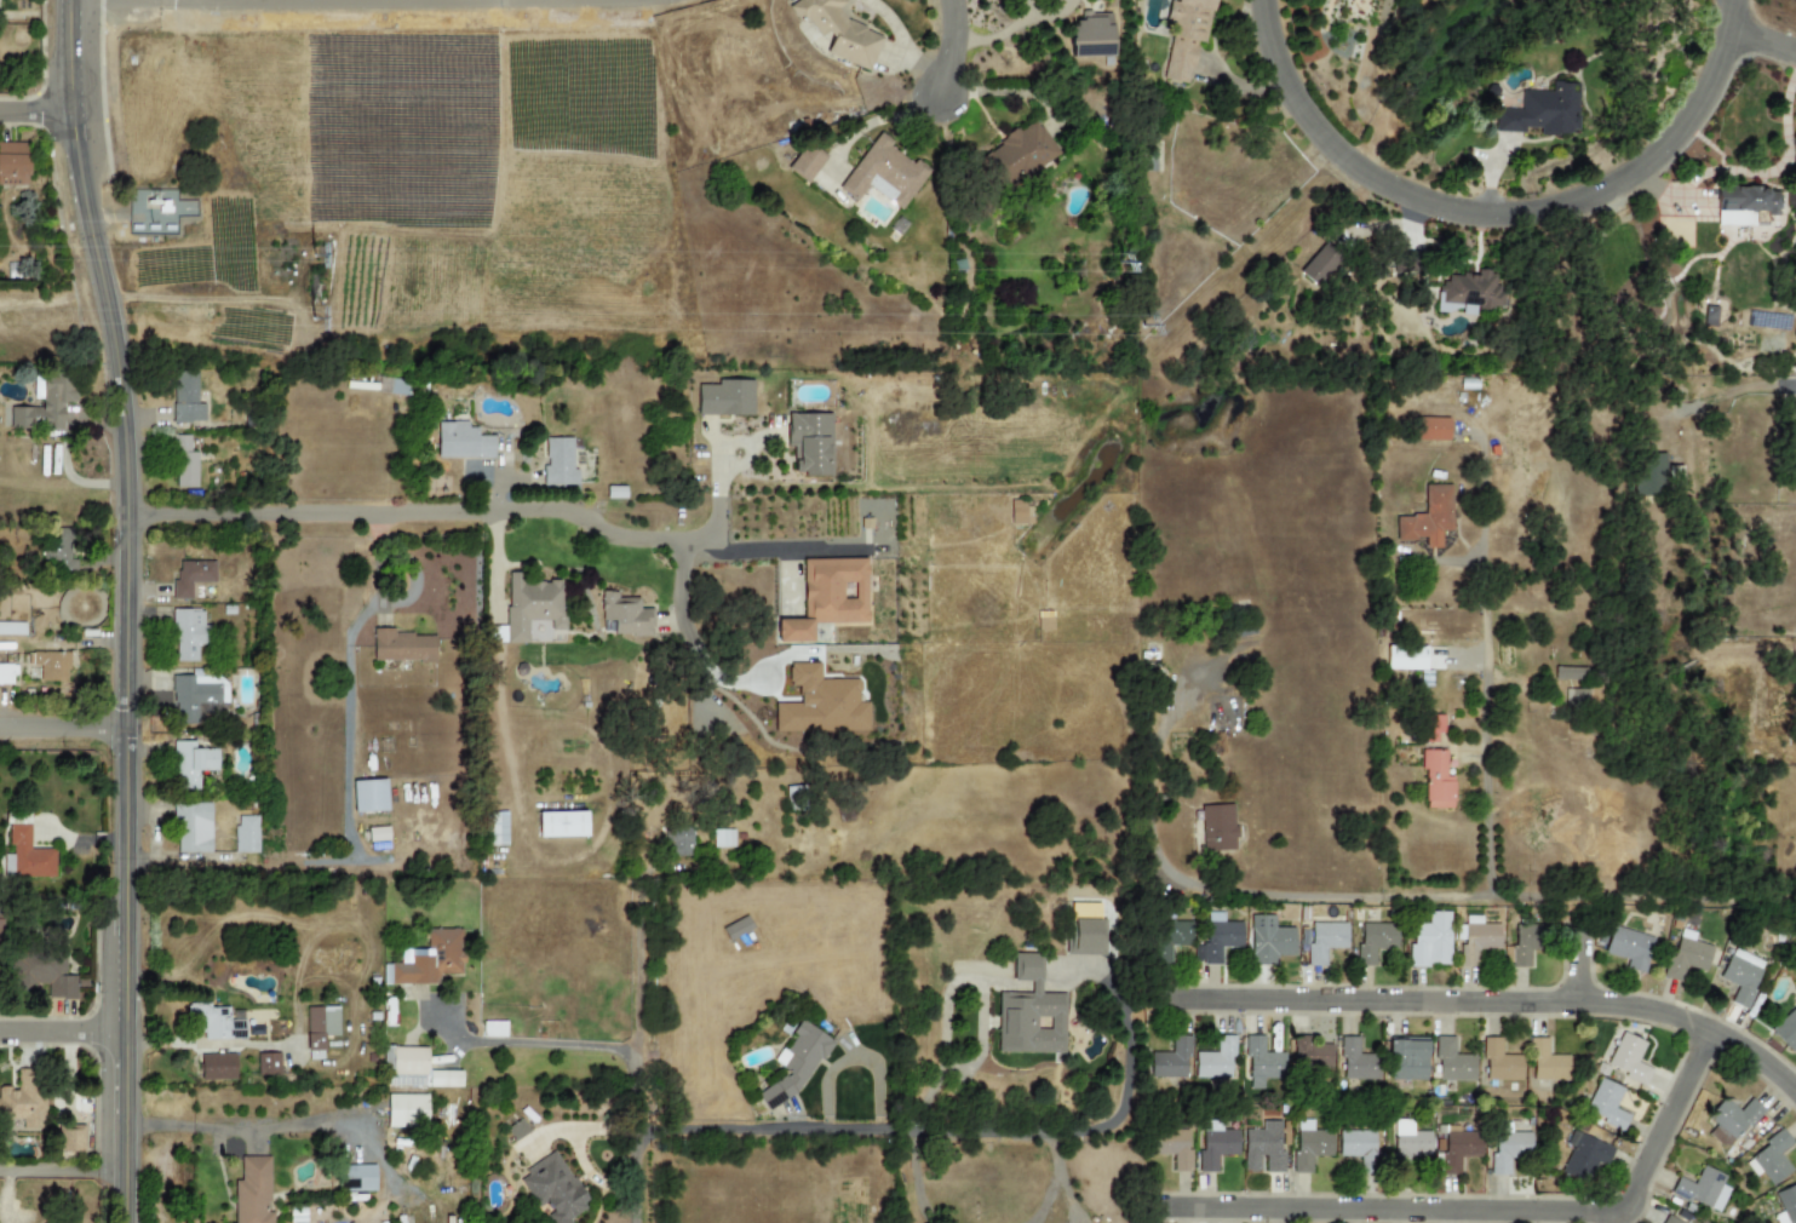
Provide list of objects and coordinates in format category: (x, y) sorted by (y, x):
building: (839, 31)
building: (1091, 35)
building: (1184, 36)
road: (1761, 38)
road: (949, 45)
building: (1543, 111)
road: (36, 115)
building: (1016, 156)
building: (13, 163)
building: (805, 163)
road: (1746, 172)
building: (884, 174)
building: (1743, 203)
road: (1492, 213)
building: (1318, 265)
building: (1467, 292)
road: (1791, 384)
building: (392, 386)
road: (1774, 389)
building: (724, 397)
building: (185, 398)
building: (45, 406)
building: (1430, 429)
building: (461, 442)
building: (809, 442)
building: (184, 463)
building: (558, 463)
building: (1648, 473)
road: (478, 512)
building: (1427, 517)
building: (59, 546)
road: (777, 552)
road: (497, 567)
building: (191, 578)
building: (827, 597)
building: (530, 605)
road: (137, 608)
building: (624, 615)
building: (12, 628)
building: (187, 633)
road: (689, 637)
building: (401, 647)
building: (1402, 655)
building: (50, 665)
road: (1486, 668)
building: (1570, 672)
building: (6, 673)
building: (191, 696)
building: (1576, 699)
building: (820, 704)
road: (68, 718)
building: (1433, 727)
building: (191, 764)
building: (1436, 780)
building: (368, 796)
building: (561, 825)
building: (193, 828)
building: (497, 828)
building: (1217, 828)
building: (246, 834)
building: (722, 838)
building: (677, 842)
building: (25, 856)
road: (1368, 897)
building: (736, 928)
building: (0, 929)
building: (1085, 937)
building: (1166, 940)
building: (1270, 940)
building: (1325, 940)
building: (1222, 941)
building: (1431, 941)
building: (1477, 942)
building: (1377, 943)
building: (1525, 947)
building: (1628, 954)
road: (638, 957)
building: (1686, 958)
building: (428, 959)
road: (1576, 968)
building: (41, 972)
building: (1743, 981)
road: (1481, 999)
road: (985, 1005)
building: (1029, 1012)
building: (213, 1022)
road: (68, 1028)
building: (320, 1029)
building: (493, 1029)
building: (1786, 1029)
road: (590, 1044)
building: (1310, 1052)
building: (1217, 1058)
building: (1406, 1058)
building: (1628, 1058)
building: (1170, 1060)
building: (1256, 1061)
building: (1355, 1061)
building: (1453, 1061)
building: (1499, 1061)
building: (794, 1063)
building: (1549, 1063)
building: (268, 1064)
building: (217, 1067)
building: (404, 1067)
building: (443, 1078)
building: (23, 1099)
road: (930, 1099)
building: (1607, 1106)
road: (1119, 1109)
building: (406, 1110)
building: (1731, 1121)
road: (356, 1126)
road: (202, 1130)
building: (516, 1130)
road: (821, 1131)
building: (71, 1139)
building: (1412, 1143)
building: (1215, 1144)
building: (1266, 1147)
building: (1360, 1147)
building: (1172, 1148)
building: (1310, 1148)
building: (1508, 1149)
building: (1457, 1150)
building: (1584, 1154)
building: (1774, 1156)
road: (67, 1170)
building: (361, 1176)
road: (636, 1176)
road: (918, 1179)
road: (1054, 1182)
building: (1700, 1188)
building: (552, 1189)
building: (252, 1192)
building: (1788, 1202)
road: (1482, 1208)
building: (1668, 1222)

